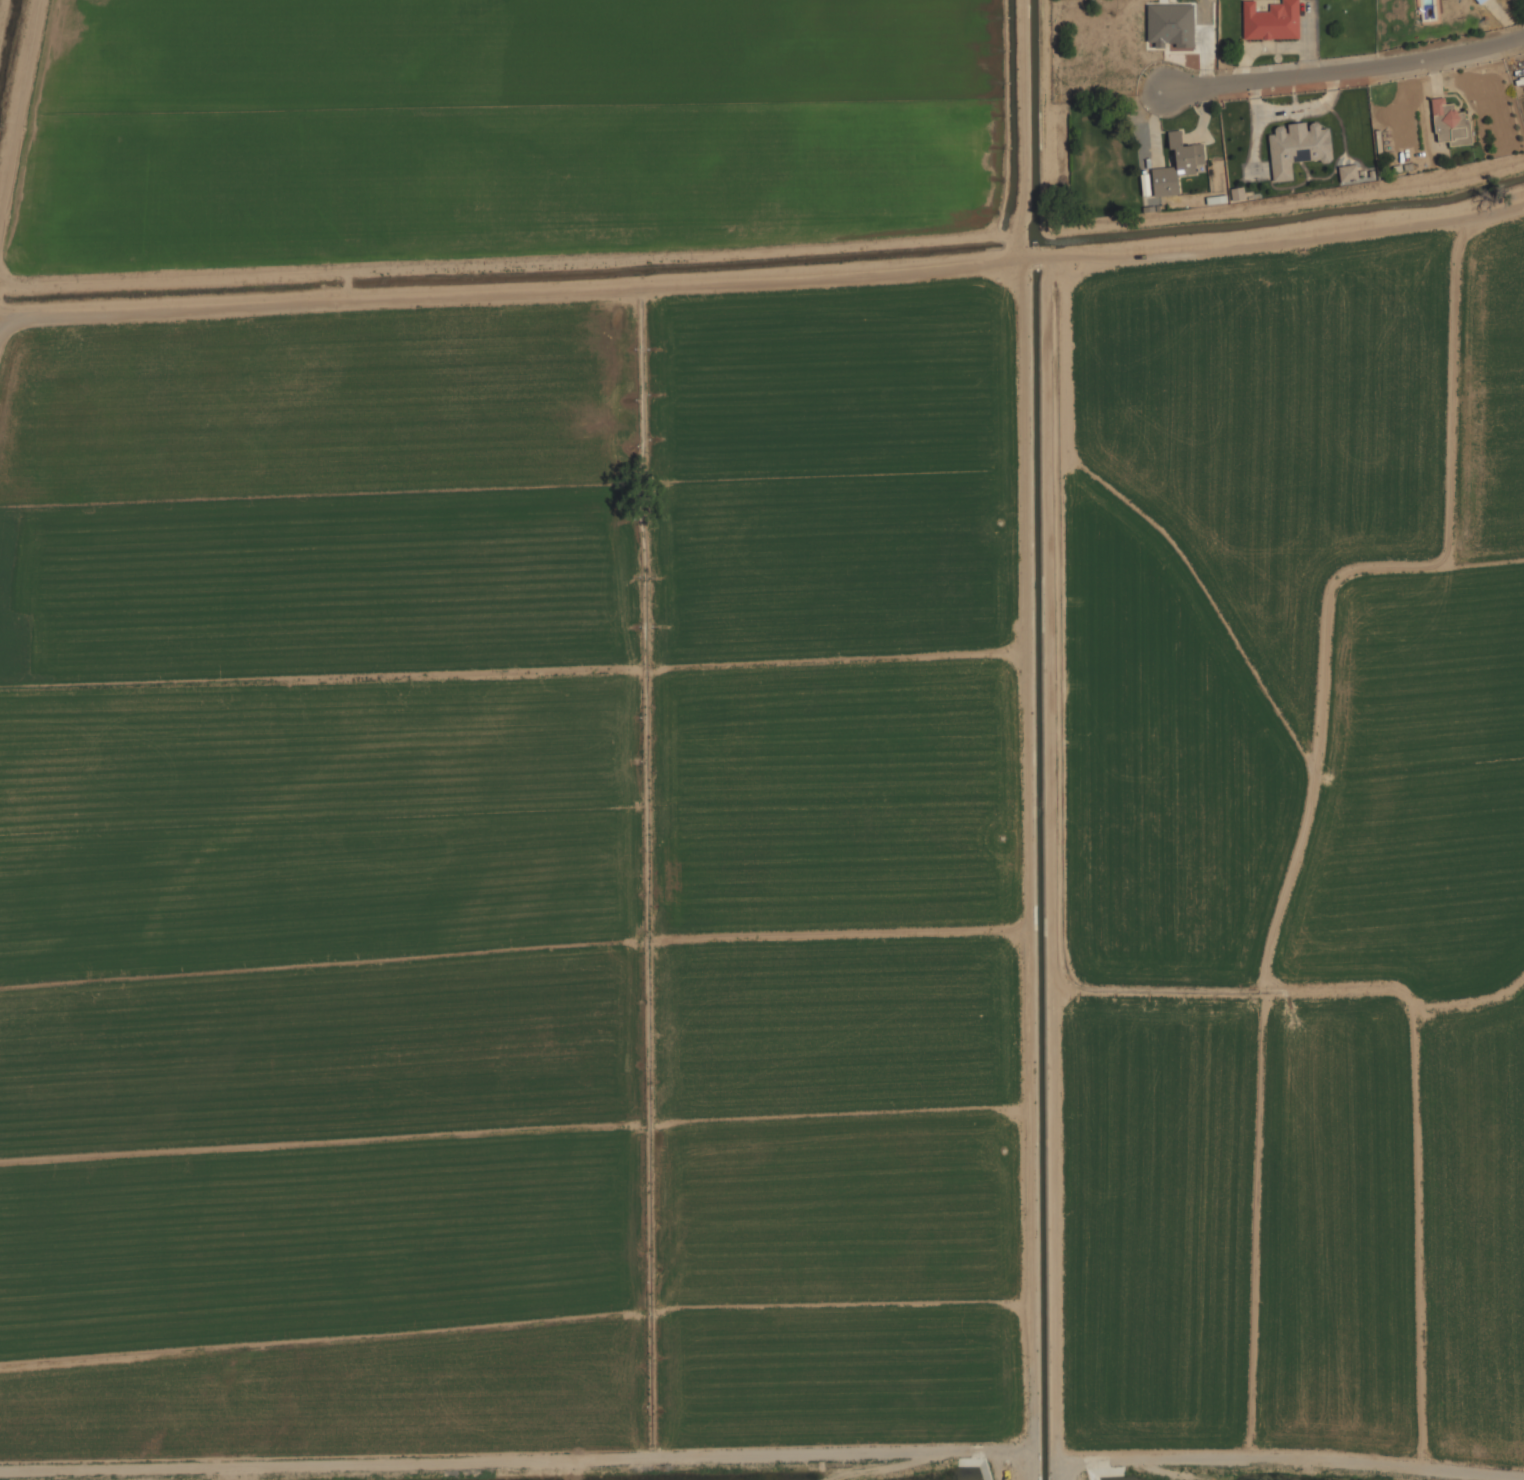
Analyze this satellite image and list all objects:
building: (1478, 0)
building: (1271, 20)
building: (1170, 24)
road: (1353, 67)
building: (1450, 122)
crop: (498, 127)
building: (1297, 146)
building: (1177, 164)
building: (1348, 171)
building: (1237, 193)
road: (762, 279)
crop: (1281, 817)
crop: (510, 876)
crop: (1472, 1238)

